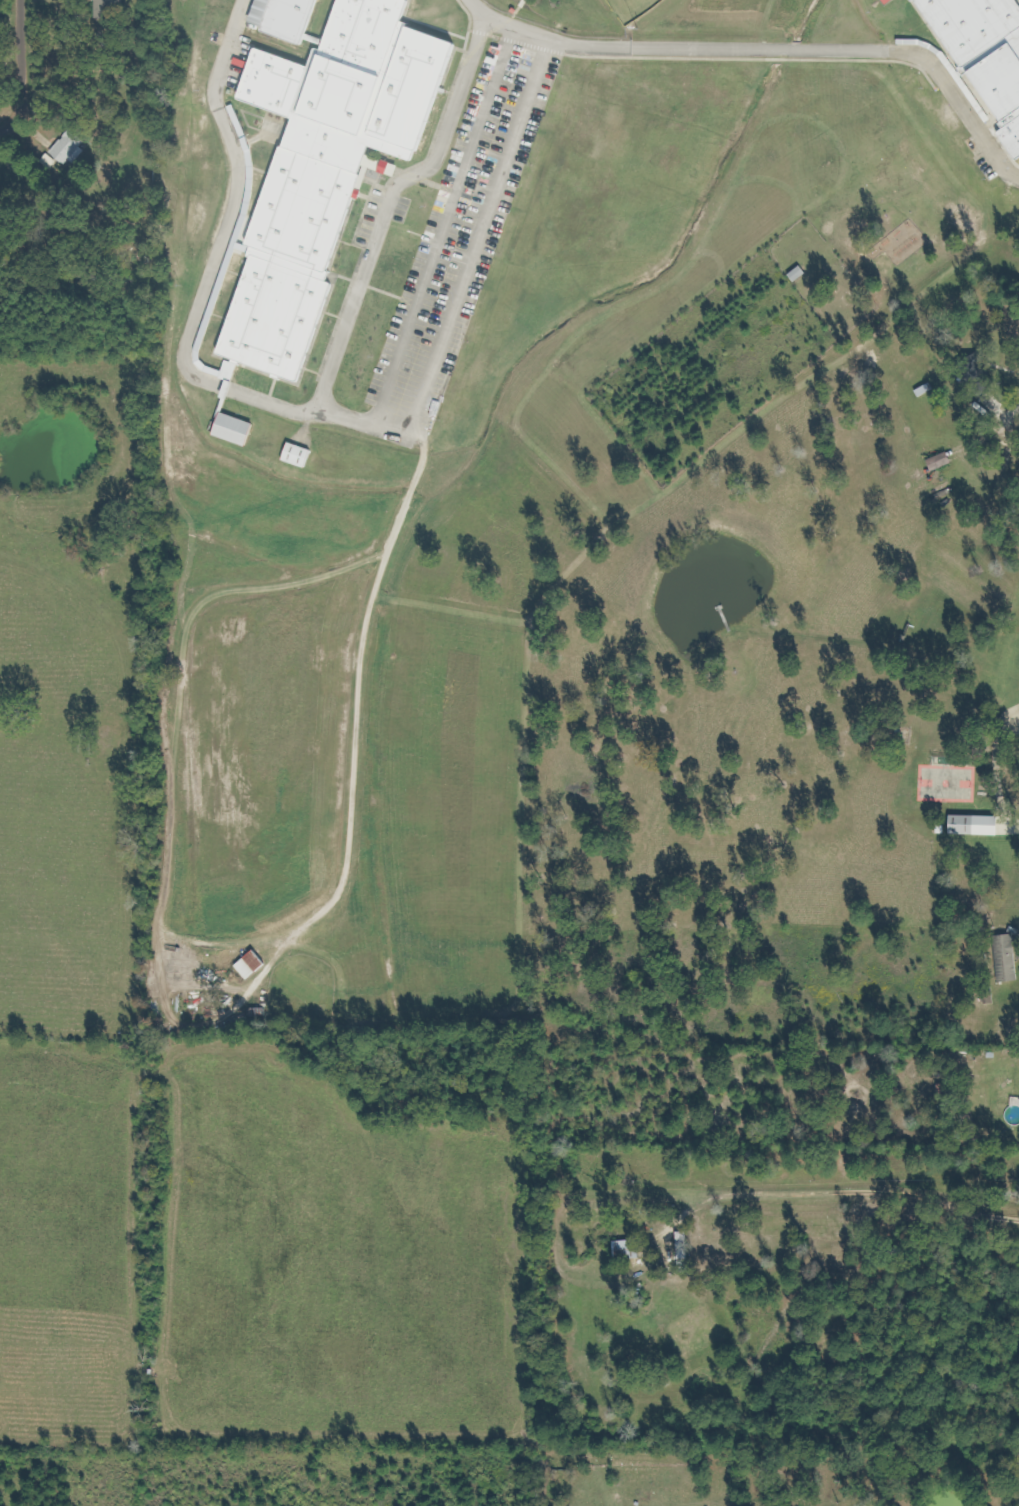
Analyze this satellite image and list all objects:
building: (886, 1)
building: (107, 8)
building: (288, 18)
road: (769, 50)
building: (984, 55)
road: (19, 70)
building: (66, 150)
building: (326, 167)
road: (445, 224)
building: (798, 274)
road: (466, 278)
building: (976, 369)
road: (274, 404)
building: (232, 429)
building: (298, 455)
building: (940, 462)
building: (973, 826)
building: (1007, 959)
building: (251, 965)
building: (633, 1250)

